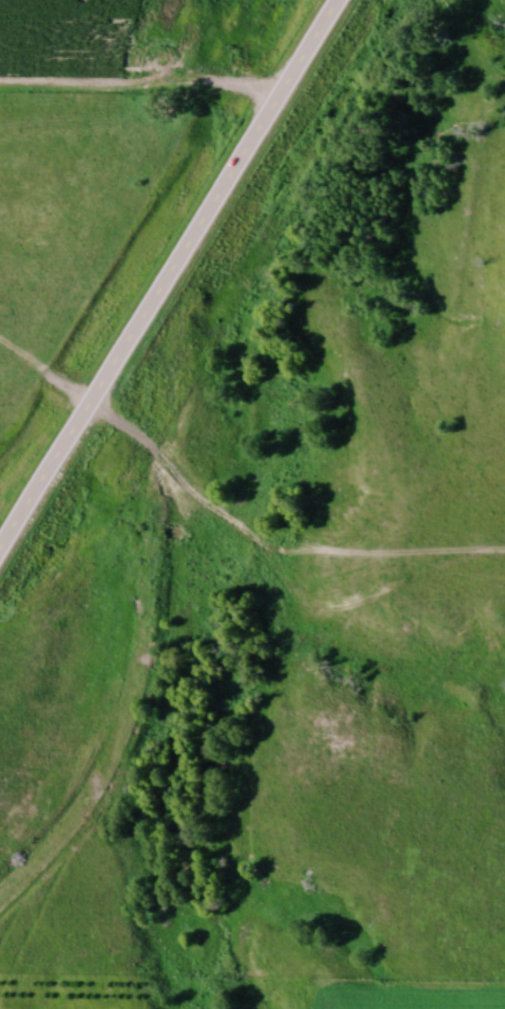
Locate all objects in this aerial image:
road: (171, 277)

